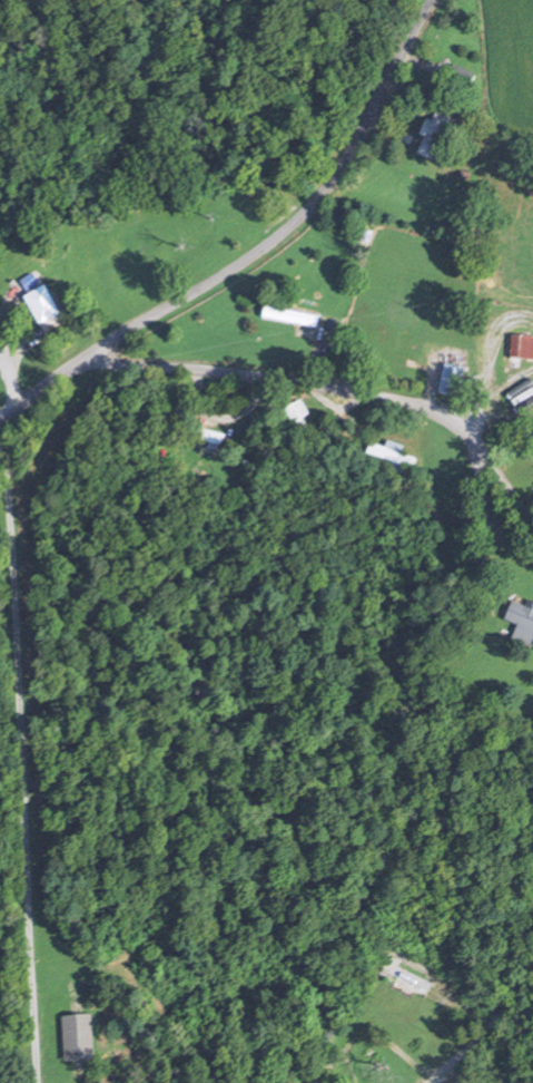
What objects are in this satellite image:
building: (435, 135)
road: (306, 214)
road: (3, 297)
building: (43, 311)
building: (290, 318)
building: (522, 349)
road: (309, 352)
building: (411, 353)
road: (487, 355)
road: (9, 363)
road: (3, 365)
road: (428, 378)
building: (452, 381)
road: (51, 383)
road: (344, 386)
road: (499, 387)
road: (335, 409)
road: (2, 416)
road: (224, 417)
building: (298, 418)
road: (418, 421)
road: (476, 429)
building: (206, 440)
building: (393, 456)
road: (481, 477)
road: (525, 500)
building: (522, 625)
road: (21, 749)
road: (394, 955)
building: (405, 976)
building: (62, 1013)
road: (490, 1015)
road: (374, 1038)
road: (463, 1048)
road: (443, 1076)

